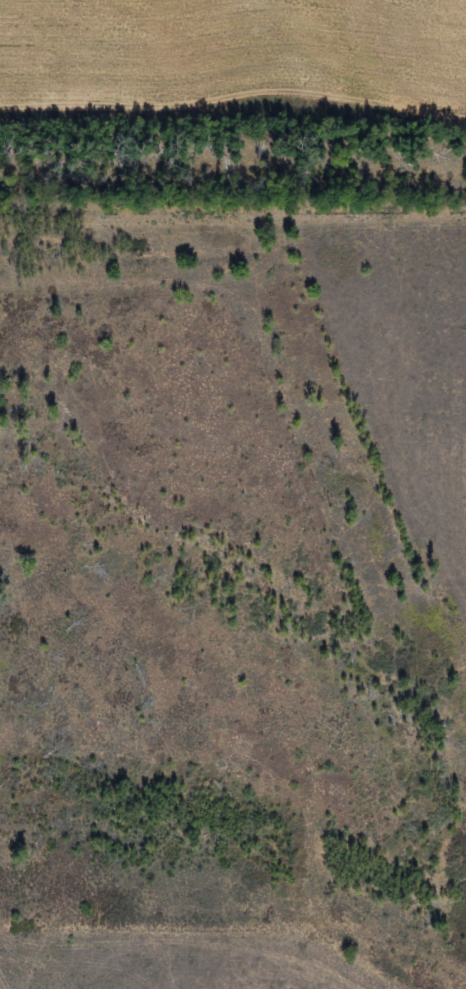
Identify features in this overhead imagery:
road: (388, 94)
road: (233, 126)

